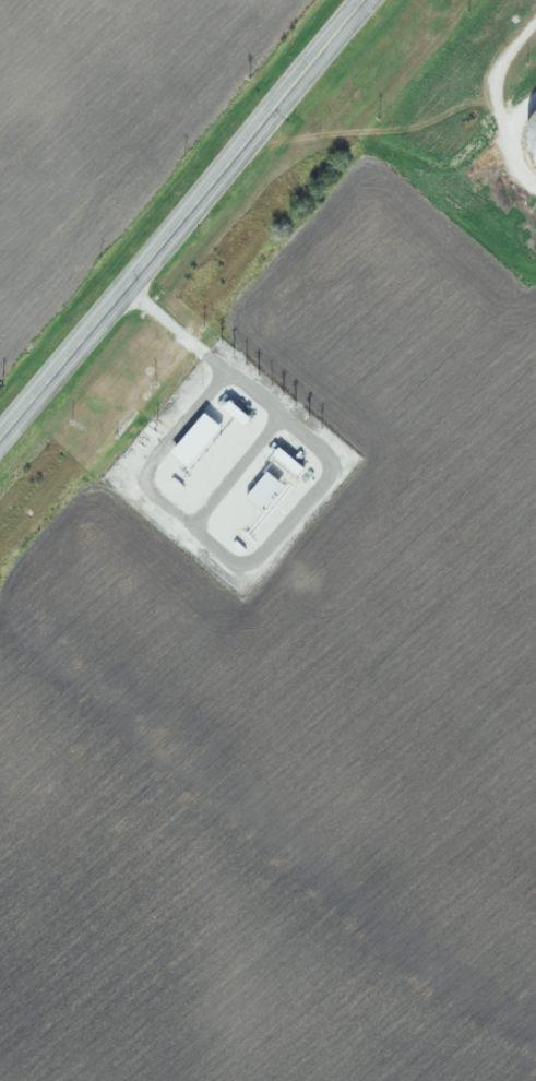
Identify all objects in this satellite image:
road: (314, 61)
building: (532, 138)
silo: (532, 138)
railway: (230, 275)
road: (133, 285)

